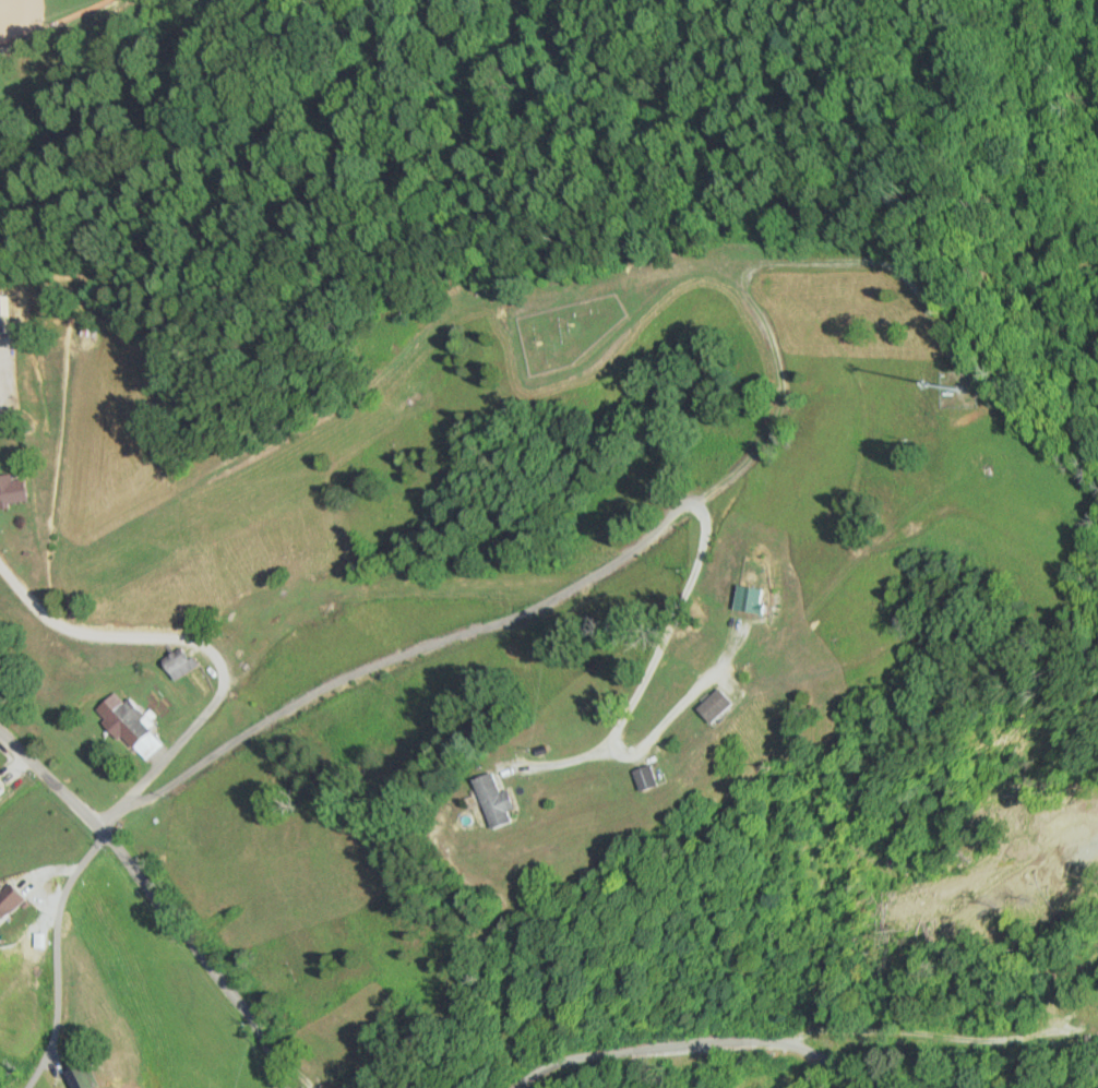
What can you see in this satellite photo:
building: (5, 315)
building: (14, 491)
road: (610, 564)
building: (749, 600)
building: (259, 607)
building: (189, 665)
building: (708, 706)
building: (136, 725)
building: (638, 778)
building: (4, 788)
building: (509, 801)
road: (156, 898)
building: (13, 902)
road: (53, 955)
road: (711, 1040)
building: (93, 1076)

